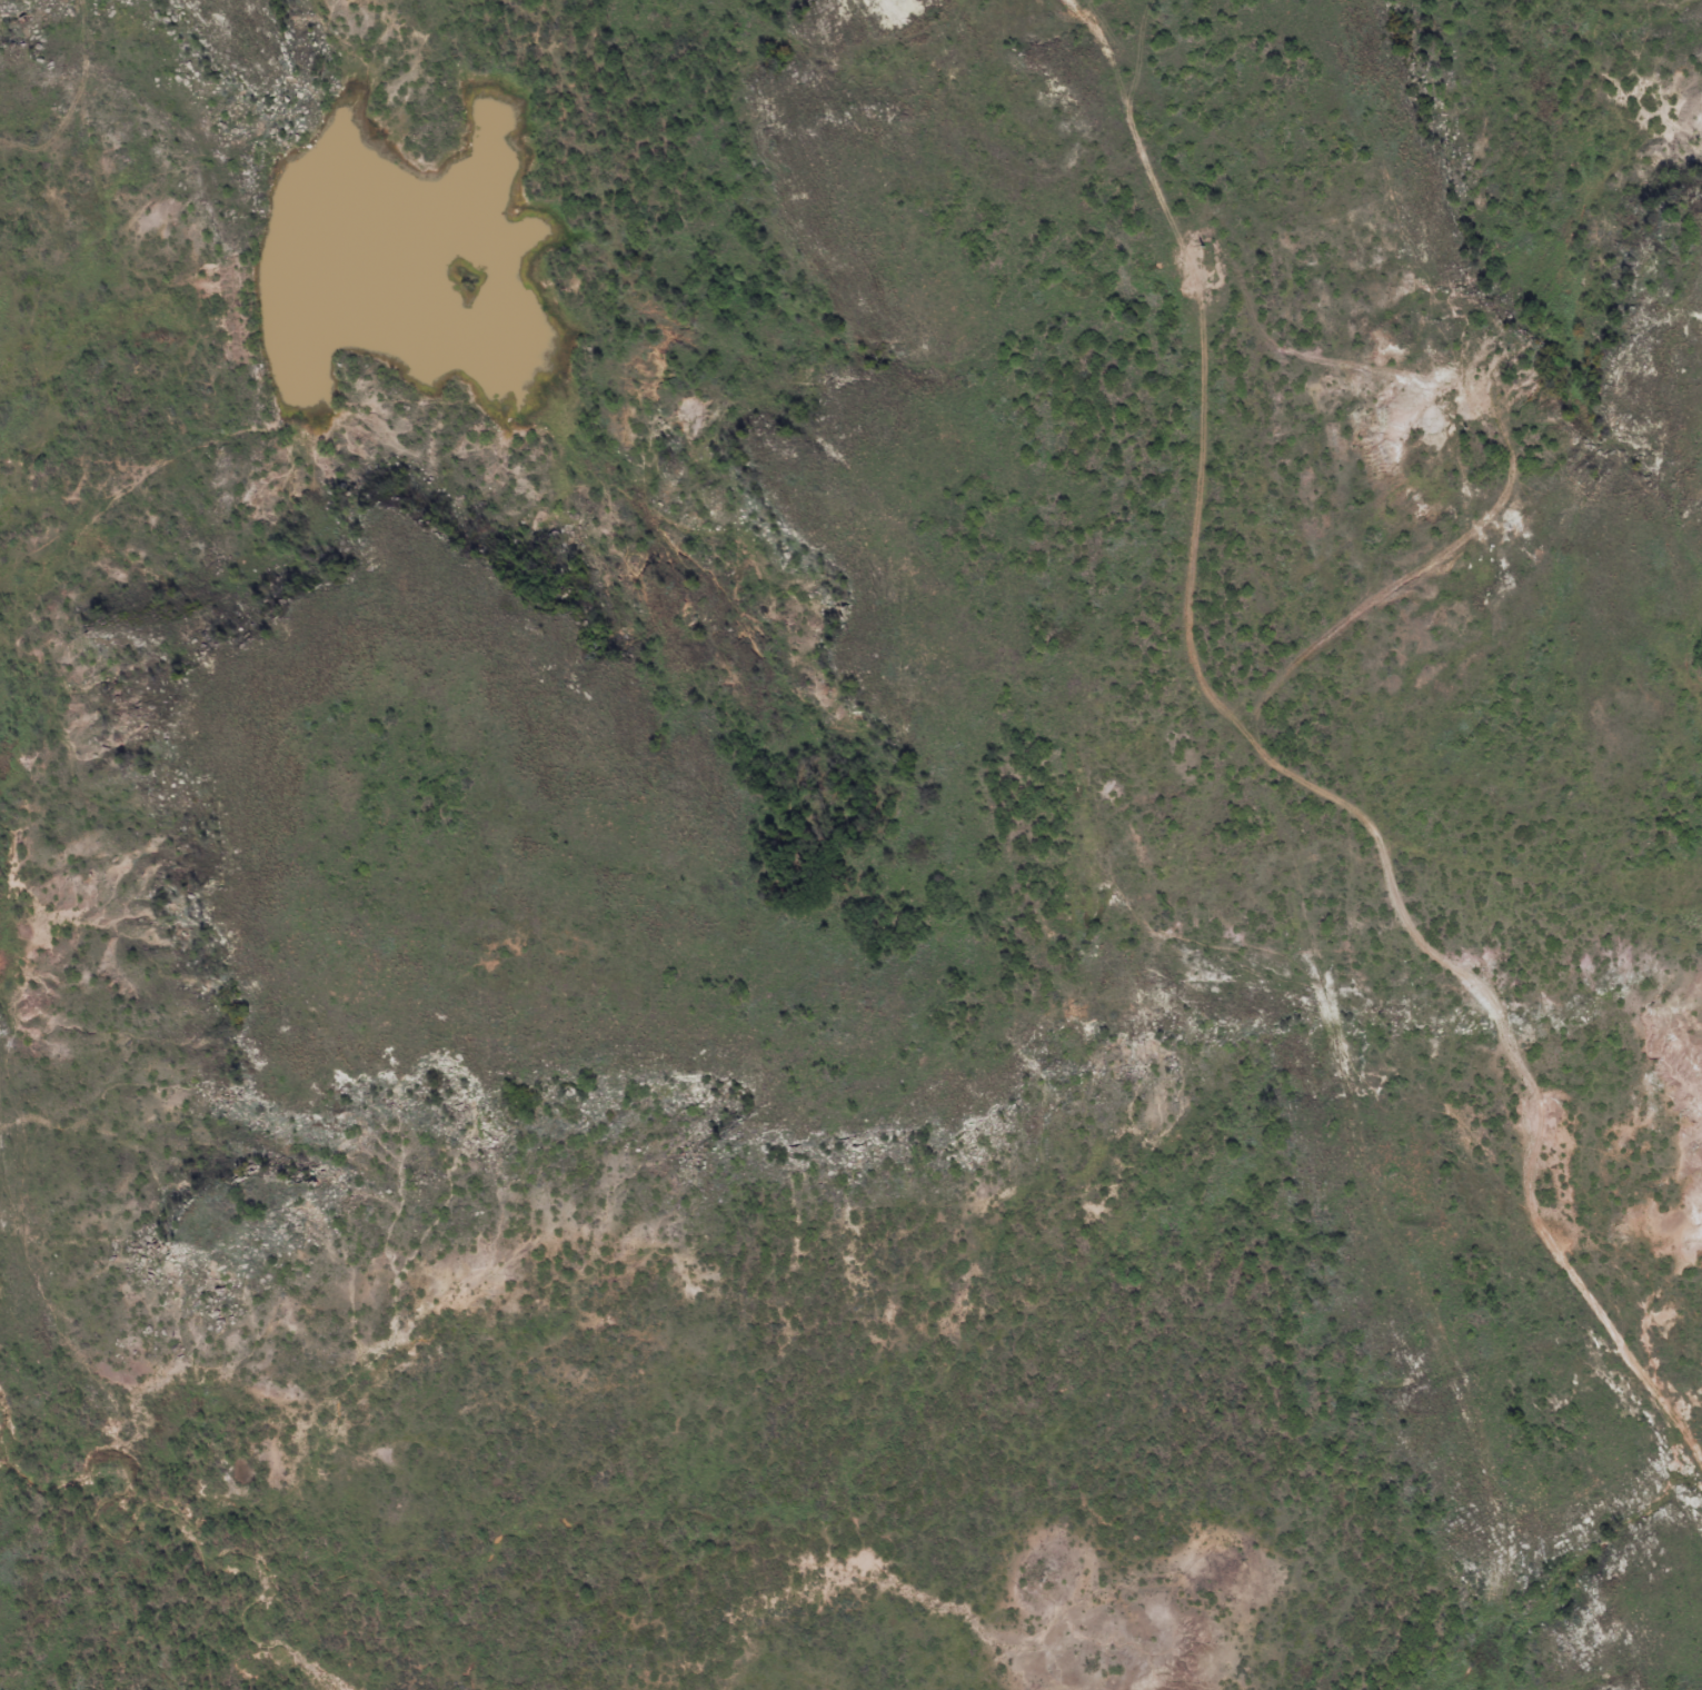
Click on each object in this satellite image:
road: (1035, 865)

